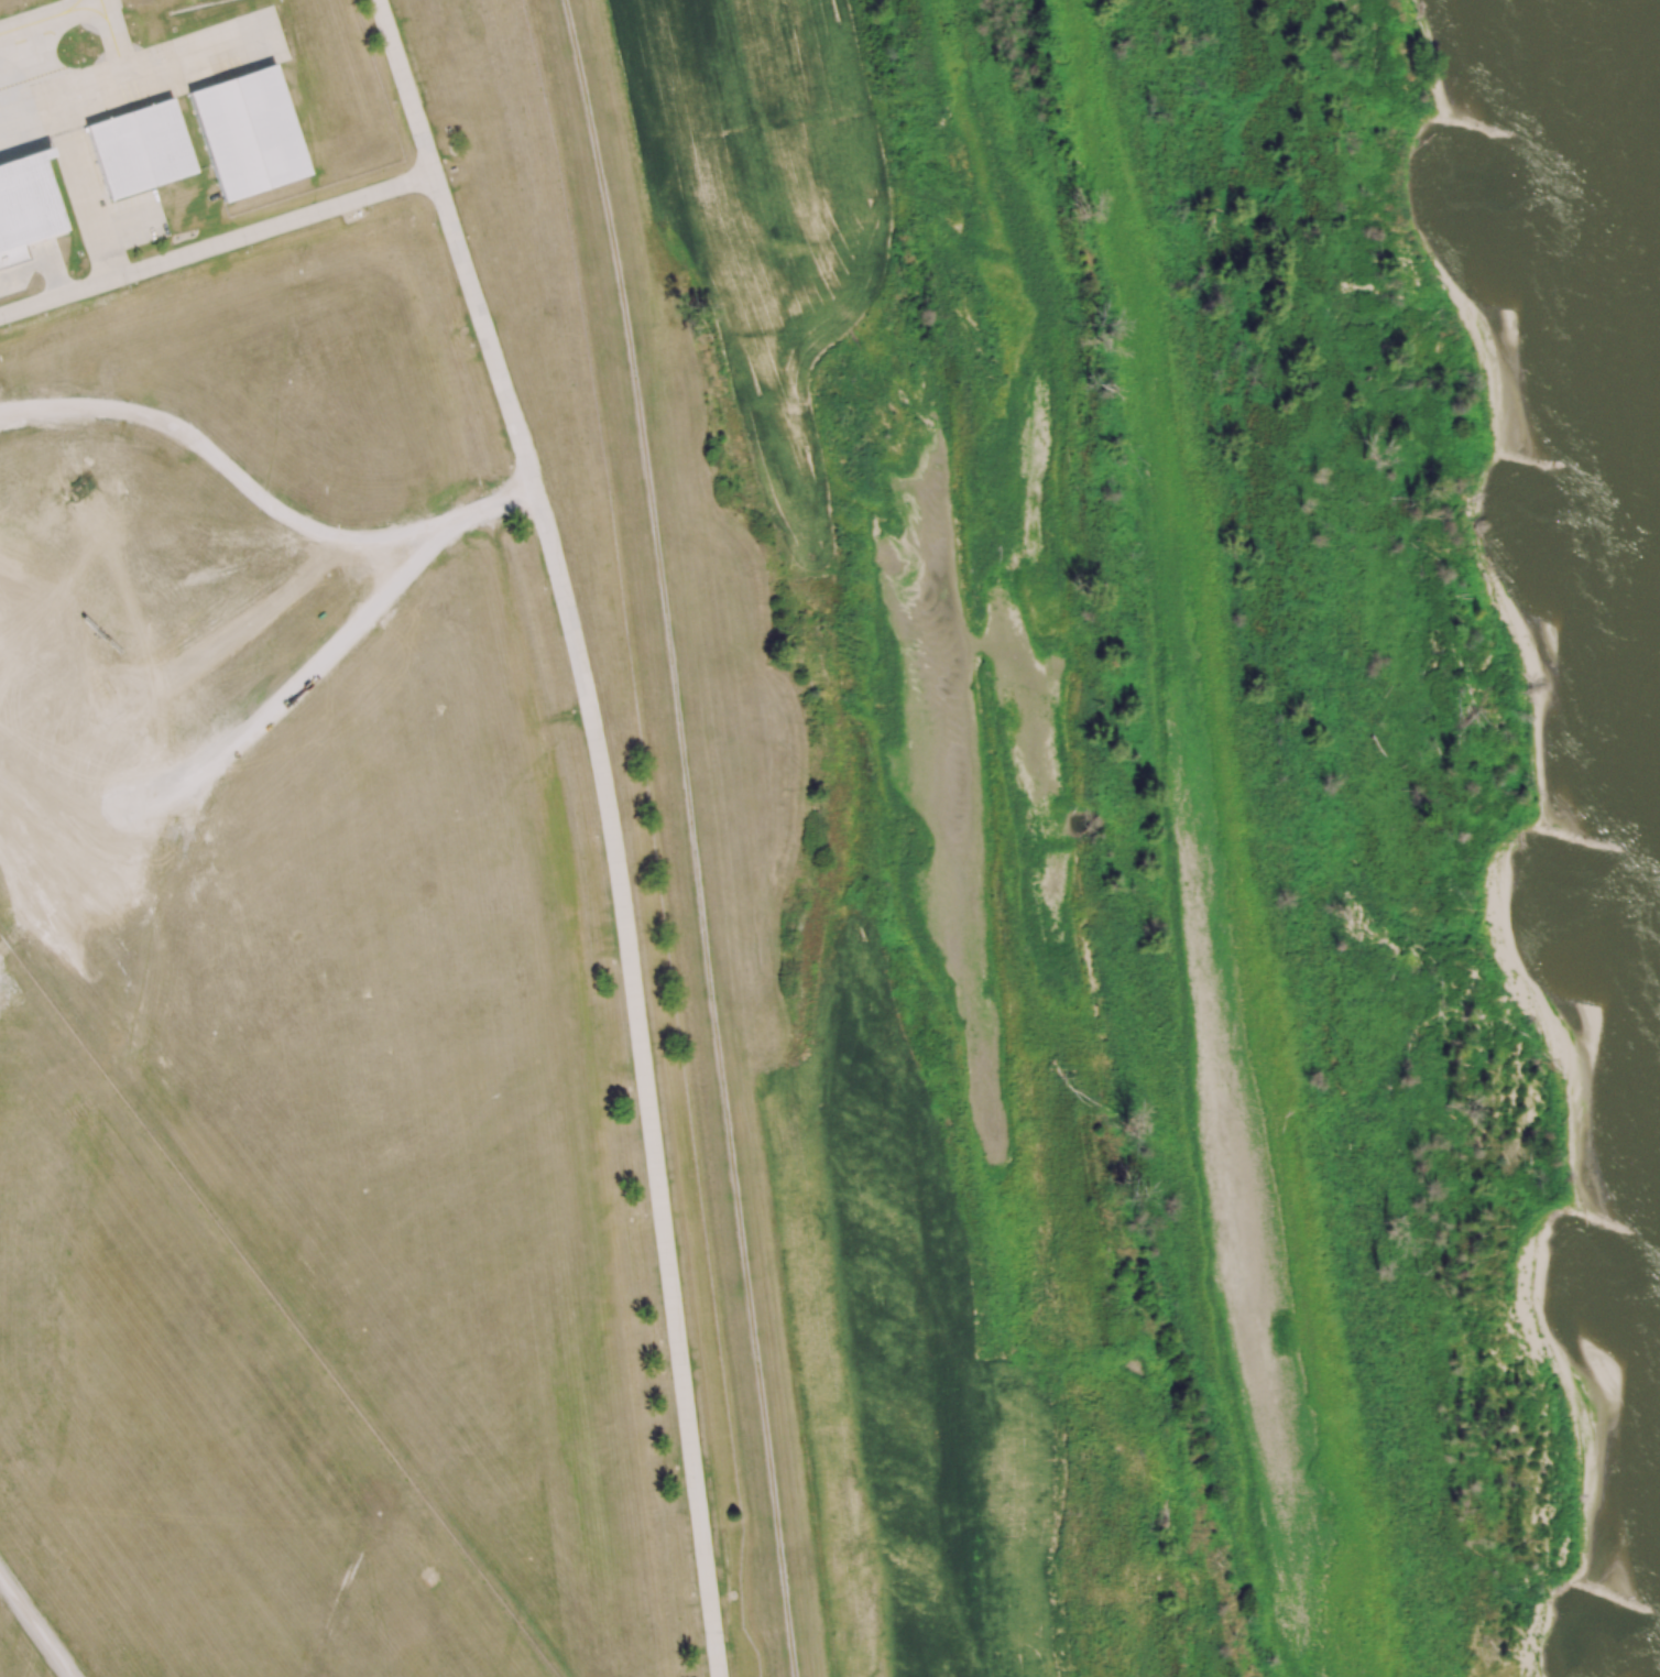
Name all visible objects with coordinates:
airport taxiway: (70, 6)
airport taxiway: (106, 12)
airport taxiway: (57, 13)
airport taxiway: (118, 51)
airport taxiway: (201, 53)
airport apron: (123, 76)
road: (406, 87)
airport taxiway: (54, 98)
airport hangar: (249, 133)
building: (249, 133)
airport hangar: (140, 149)
building: (140, 149)
parking lot: (103, 202)
road: (88, 204)
airport hangar: (25, 205)
building: (25, 205)
road: (128, 221)
road: (217, 246)
parking lot: (29, 266)
road: (261, 493)
road: (266, 720)
airport: (328, 887)
road: (624, 916)
road: (35, 1626)

